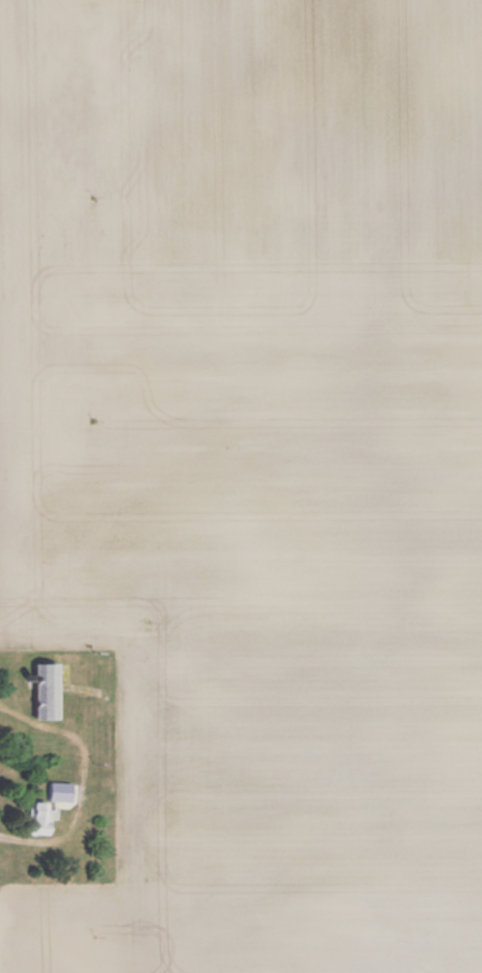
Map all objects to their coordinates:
building: (39, 690)
building: (31, 818)

